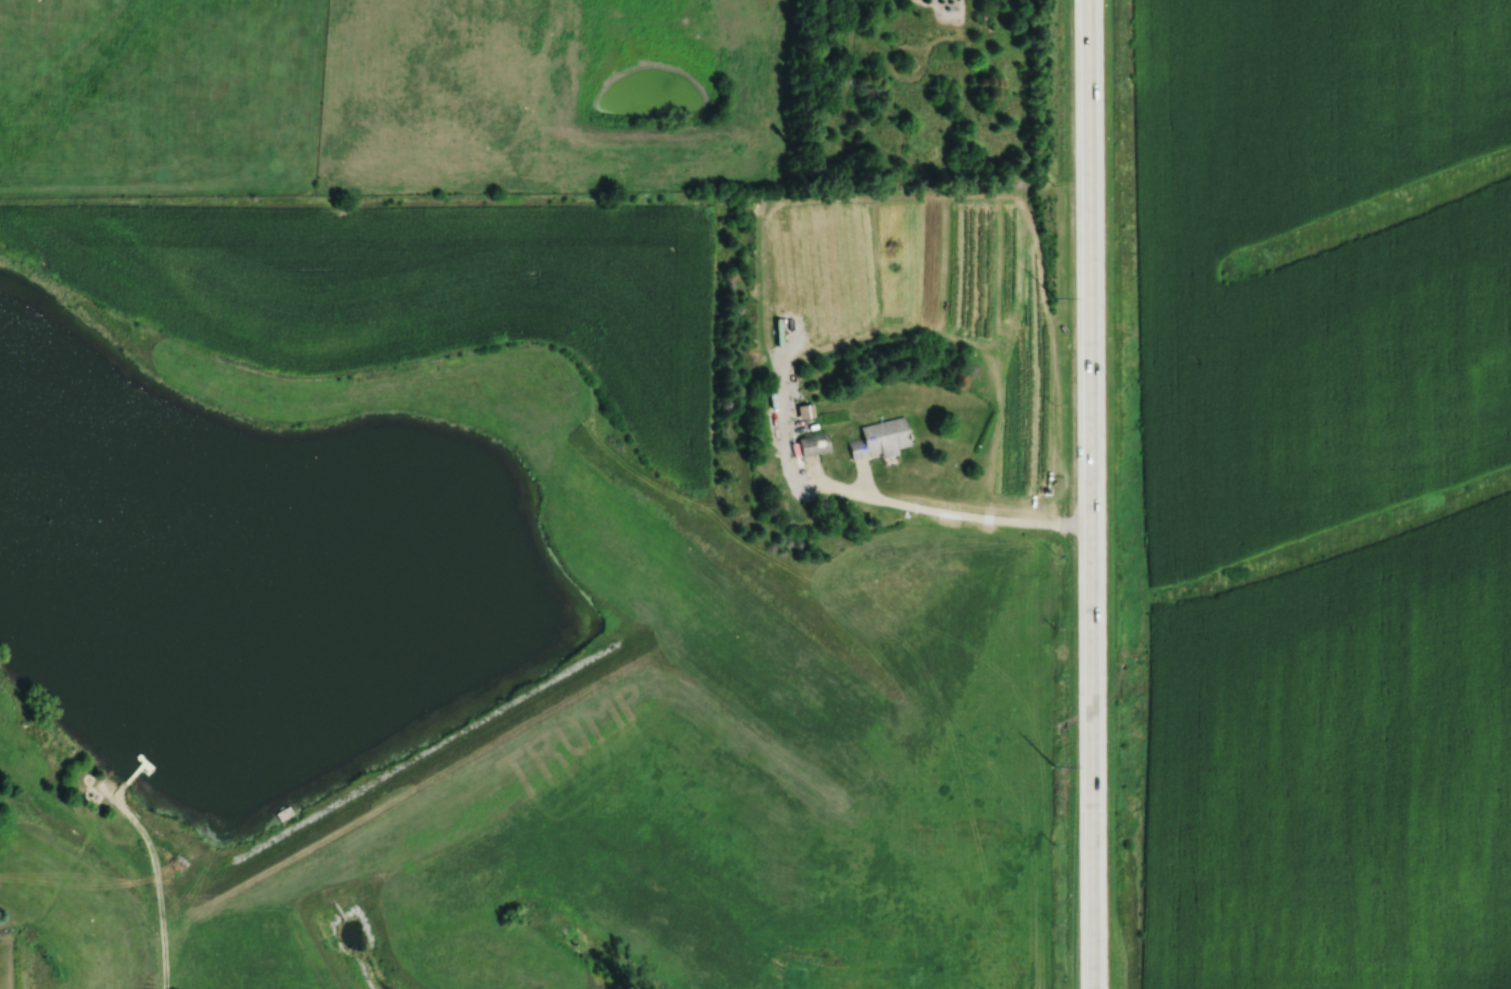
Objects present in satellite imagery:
power tower: (1054, 299)
building: (882, 439)
building: (815, 444)
road: (1088, 494)
road: (967, 515)
power tower: (1052, 765)
dam: (427, 773)
road: (157, 885)

